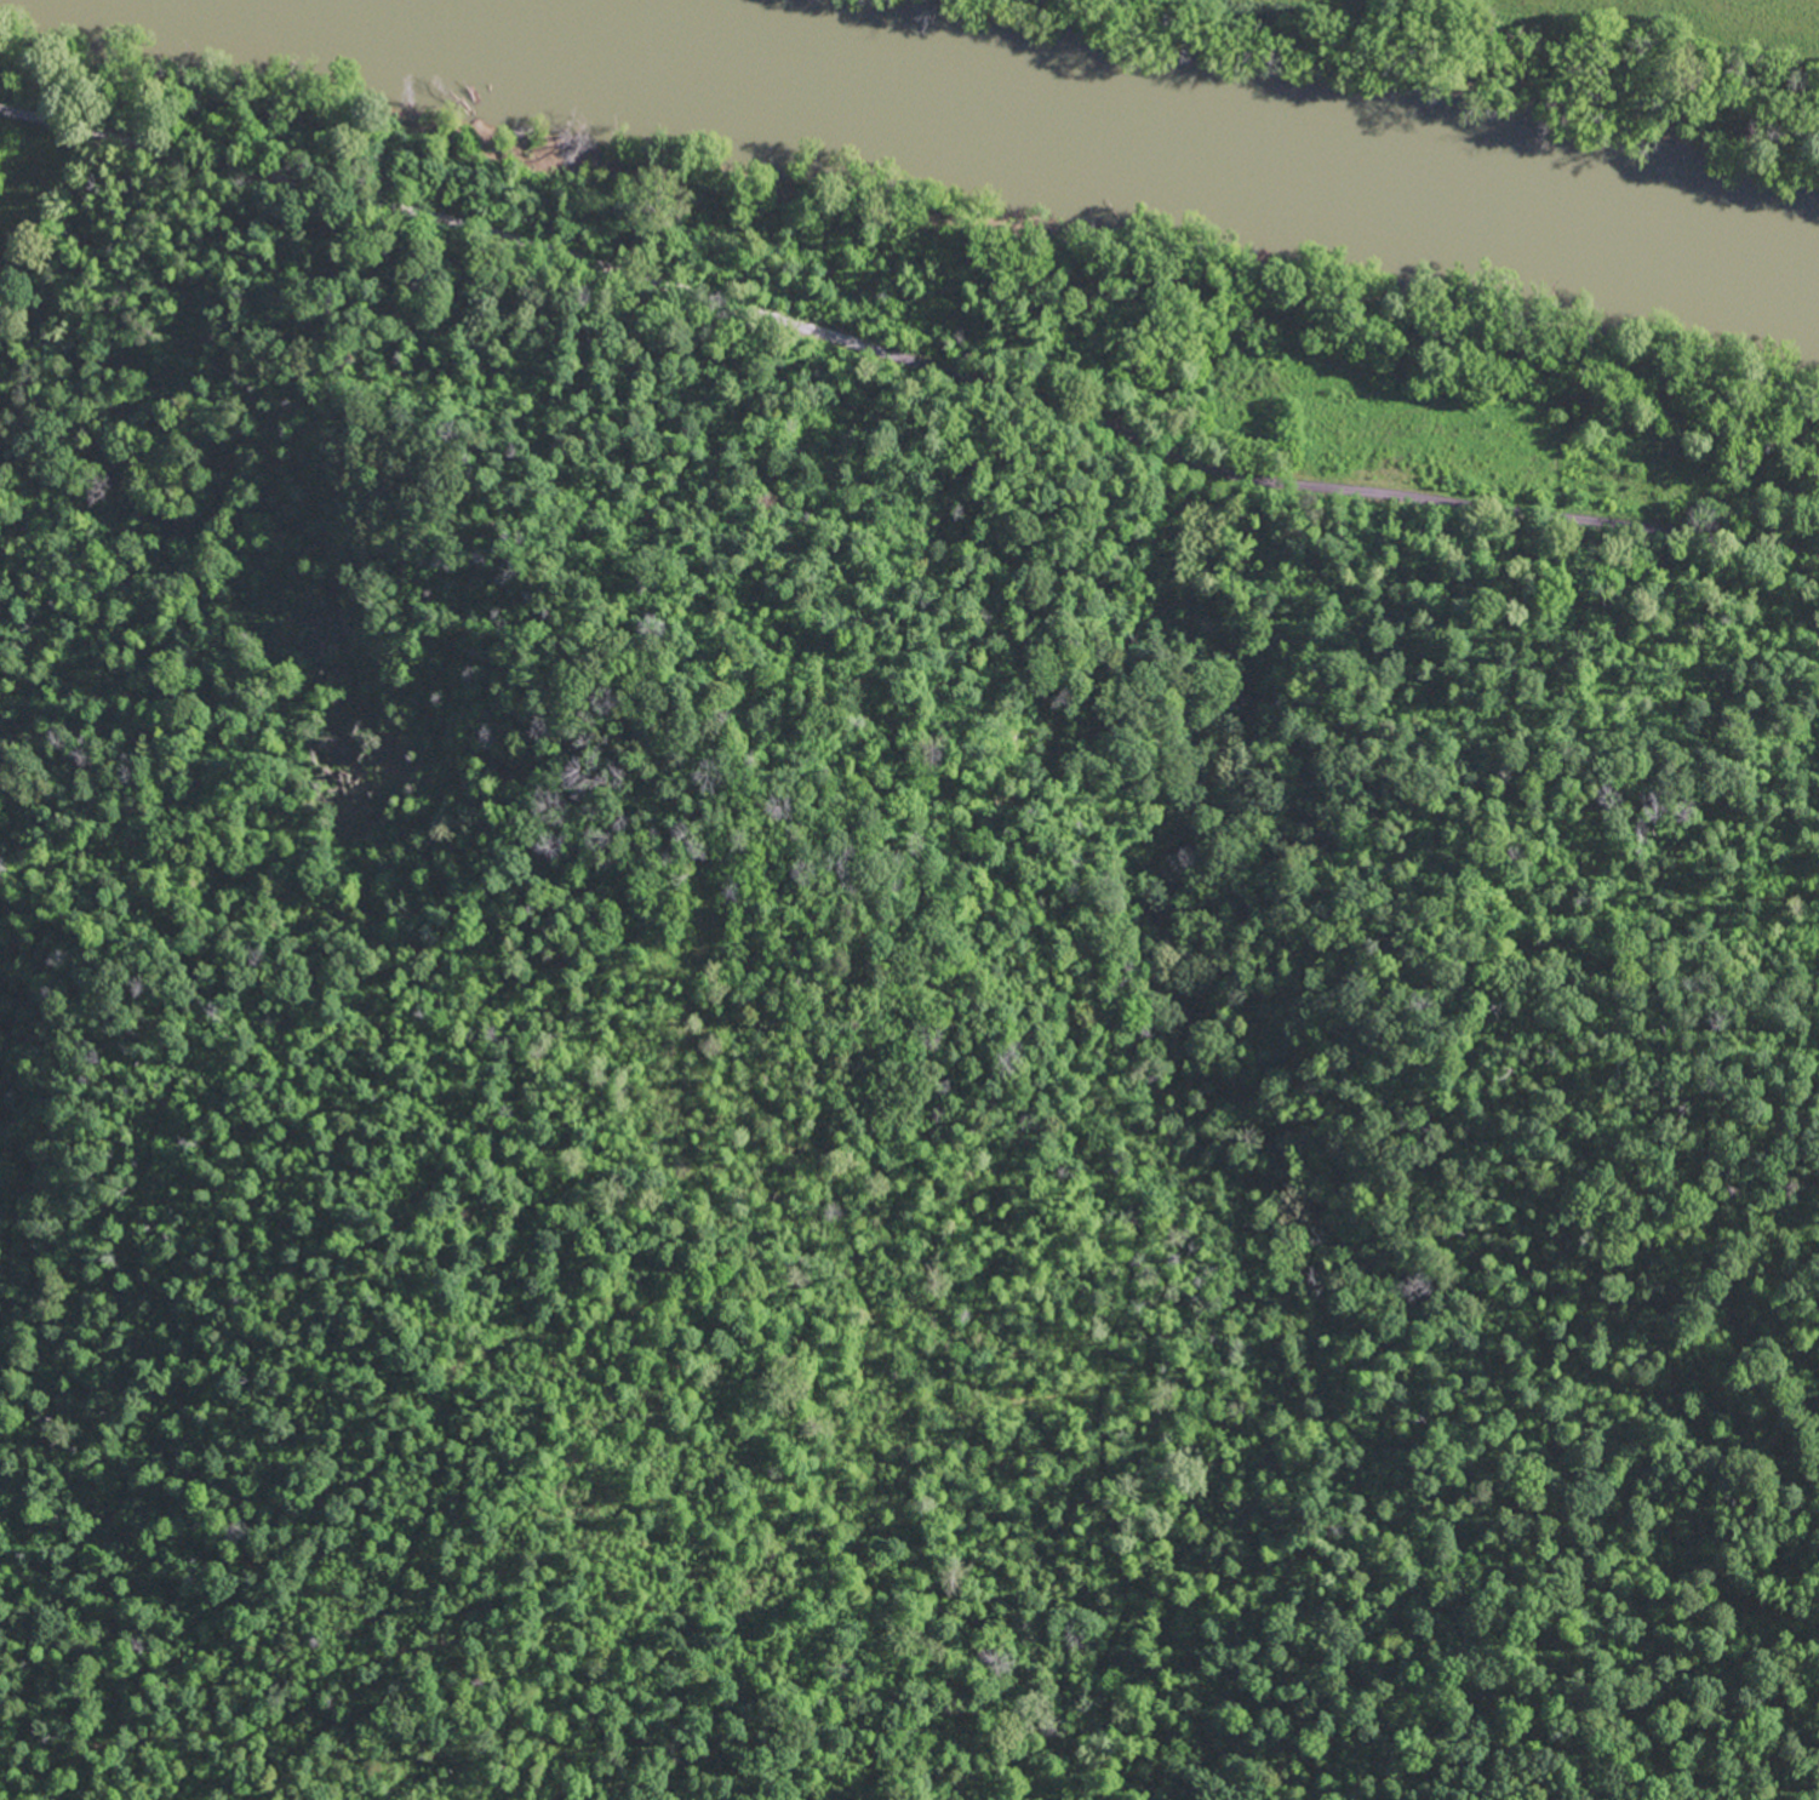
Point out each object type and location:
river: (1122, 120)
road: (909, 358)
road: (474, 1699)

